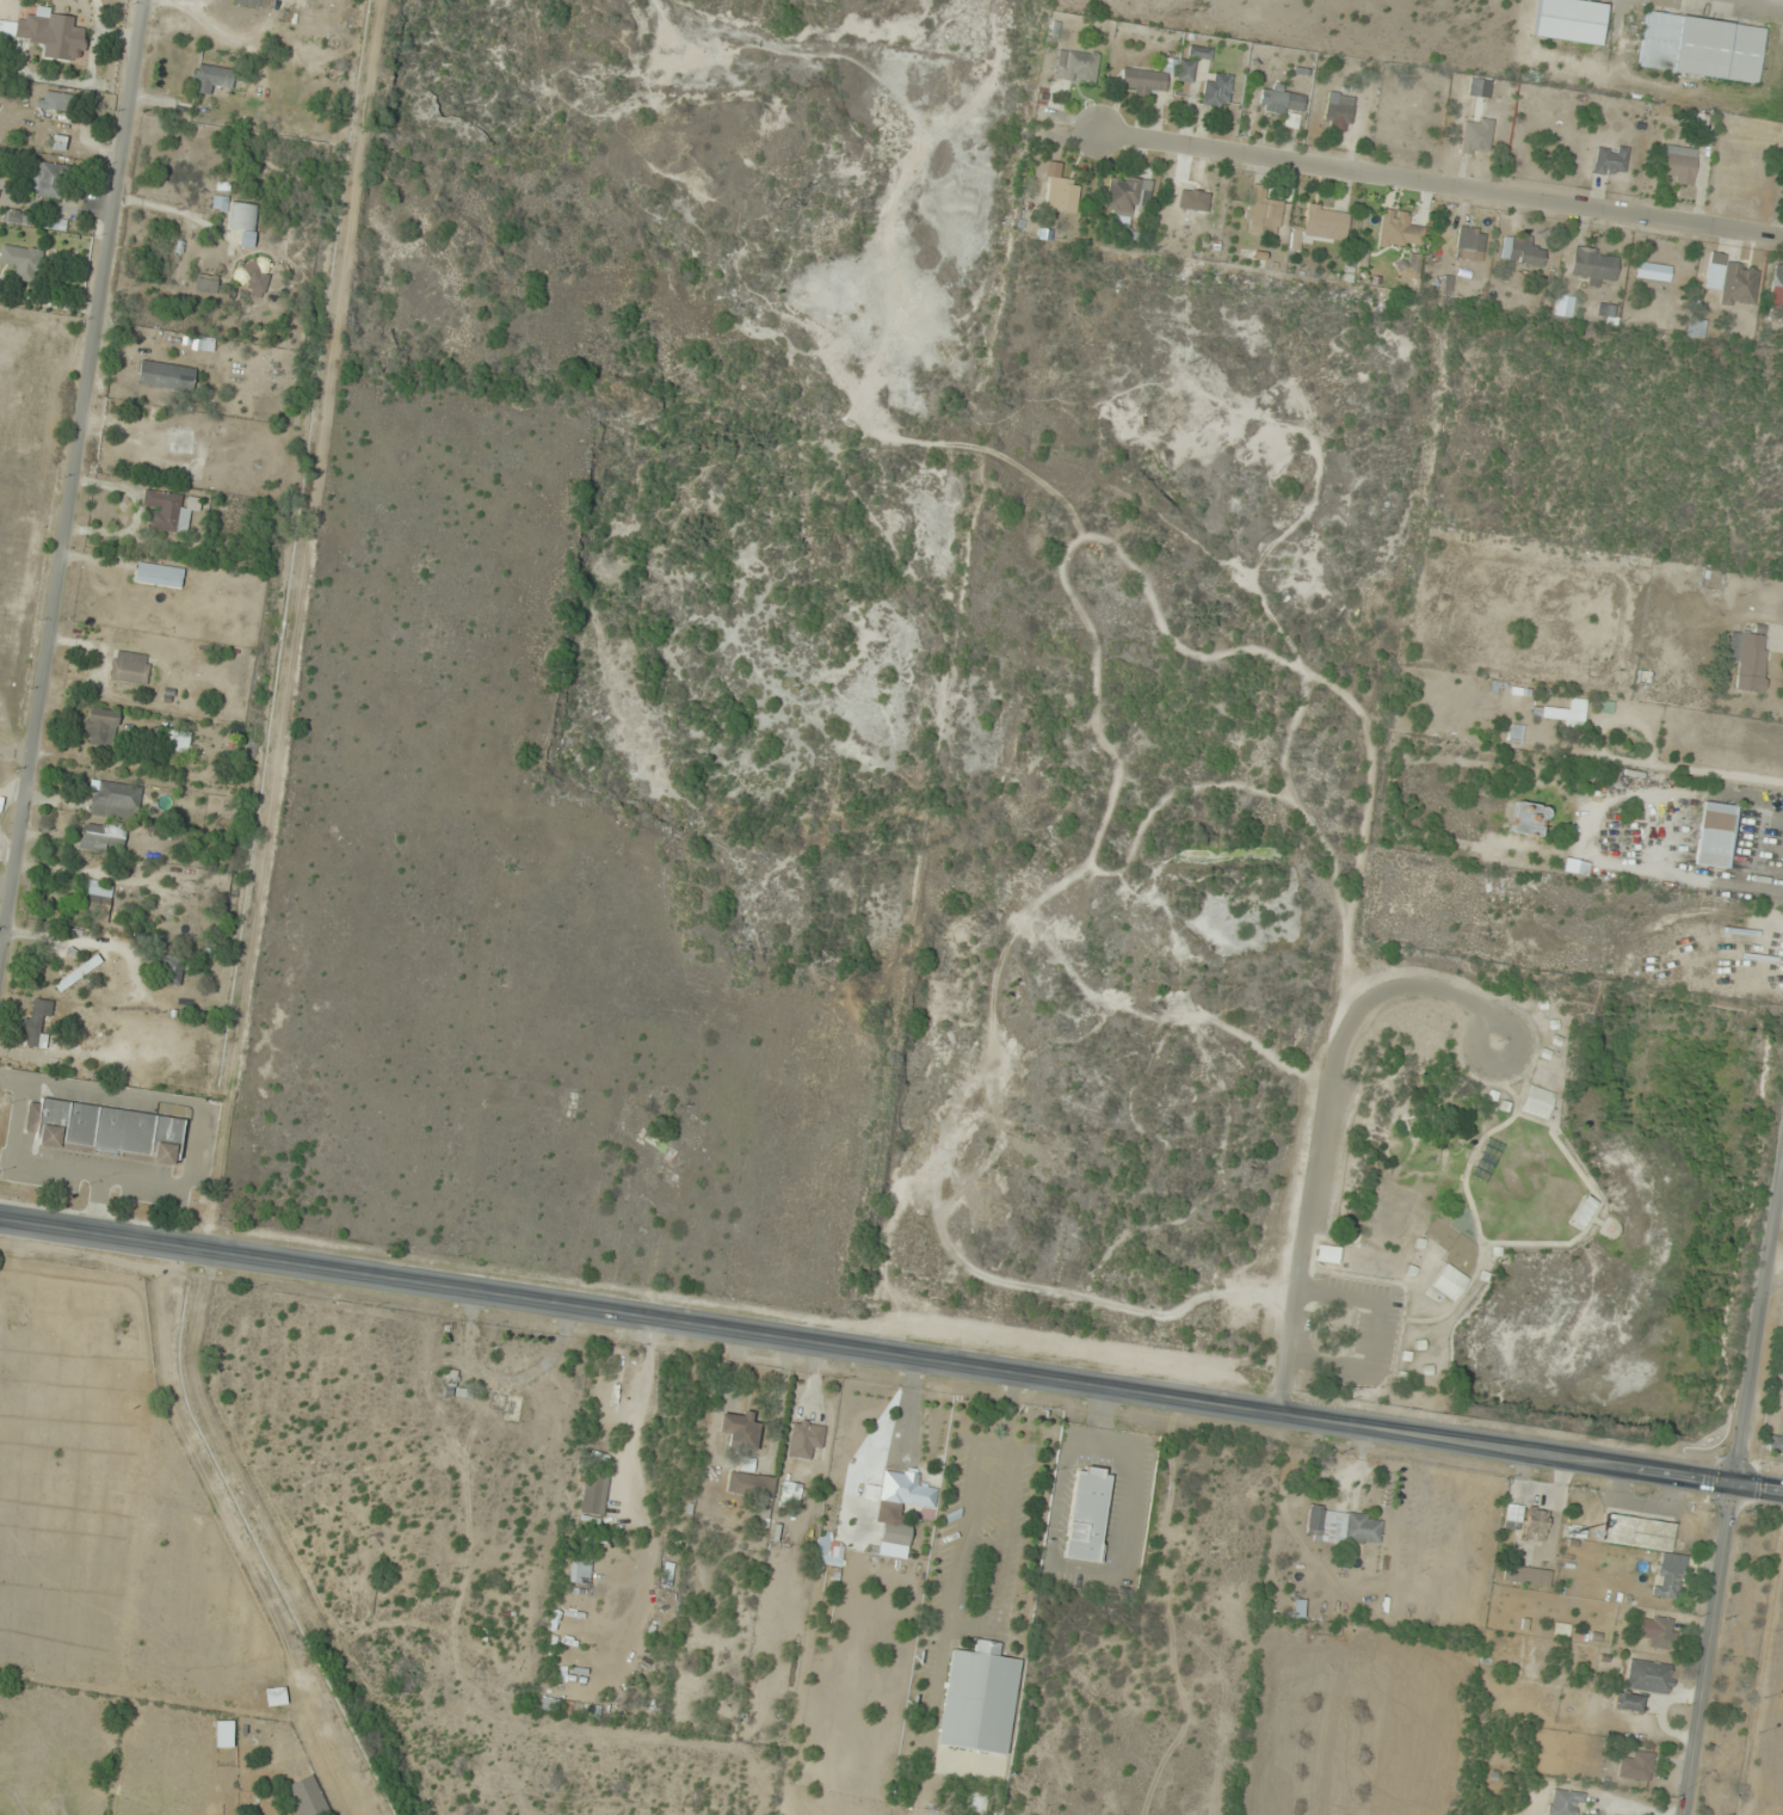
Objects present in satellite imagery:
building: (253, 2)
building: (1569, 20)
building: (53, 35)
building: (1701, 48)
building: (1199, 53)
building: (1081, 66)
building: (1185, 70)
building: (210, 78)
building: (1143, 80)
building: (1216, 90)
building: (55, 100)
building: (1282, 100)
building: (1338, 111)
building: (1476, 136)
building: (57, 143)
building: (1610, 160)
building: (1678, 164)
building: (47, 179)
road: (1423, 187)
building: (1062, 196)
building: (1124, 196)
building: (1186, 199)
building: (220, 203)
building: (1265, 215)
building: (243, 222)
building: (1321, 226)
building: (1399, 229)
building: (1470, 244)
building: (1522, 251)
building: (19, 260)
building: (1653, 271)
building: (255, 276)
building: (1732, 281)
building: (1777, 289)
building: (1565, 307)
building: (1608, 312)
building: (1697, 328)
building: (166, 376)
building: (212, 445)
road: (74, 485)
building: (169, 510)
building: (159, 576)
building: (1748, 660)
building: (129, 669)
building: (1561, 713)
building: (100, 727)
building: (1516, 734)
building: (116, 800)
building: (1529, 818)
building: (1715, 835)
building: (101, 836)
building: (97, 897)
building: (173, 967)
building: (78, 973)
building: (36, 1021)
building: (1537, 1102)
building: (105, 1131)
building: (1583, 1212)
building: (1450, 1282)
road: (890, 1355)
building: (457, 1389)
building: (741, 1431)
building: (804, 1439)
building: (1777, 1441)
traffic signals: (1735, 1488)
building: (901, 1491)
building: (594, 1493)
road: (1732, 1507)
building: (1087, 1513)
building: (1513, 1515)
building: (1536, 1525)
building: (1344, 1527)
building: (1637, 1532)
building: (895, 1533)
building: (580, 1570)
building: (1526, 1575)
building: (1668, 1582)
building: (1662, 1632)
building: (1651, 1676)
building: (979, 1699)
building: (1627, 1702)
building: (223, 1735)
building: (1636, 1766)
building: (307, 1796)
building: (1565, 1802)

